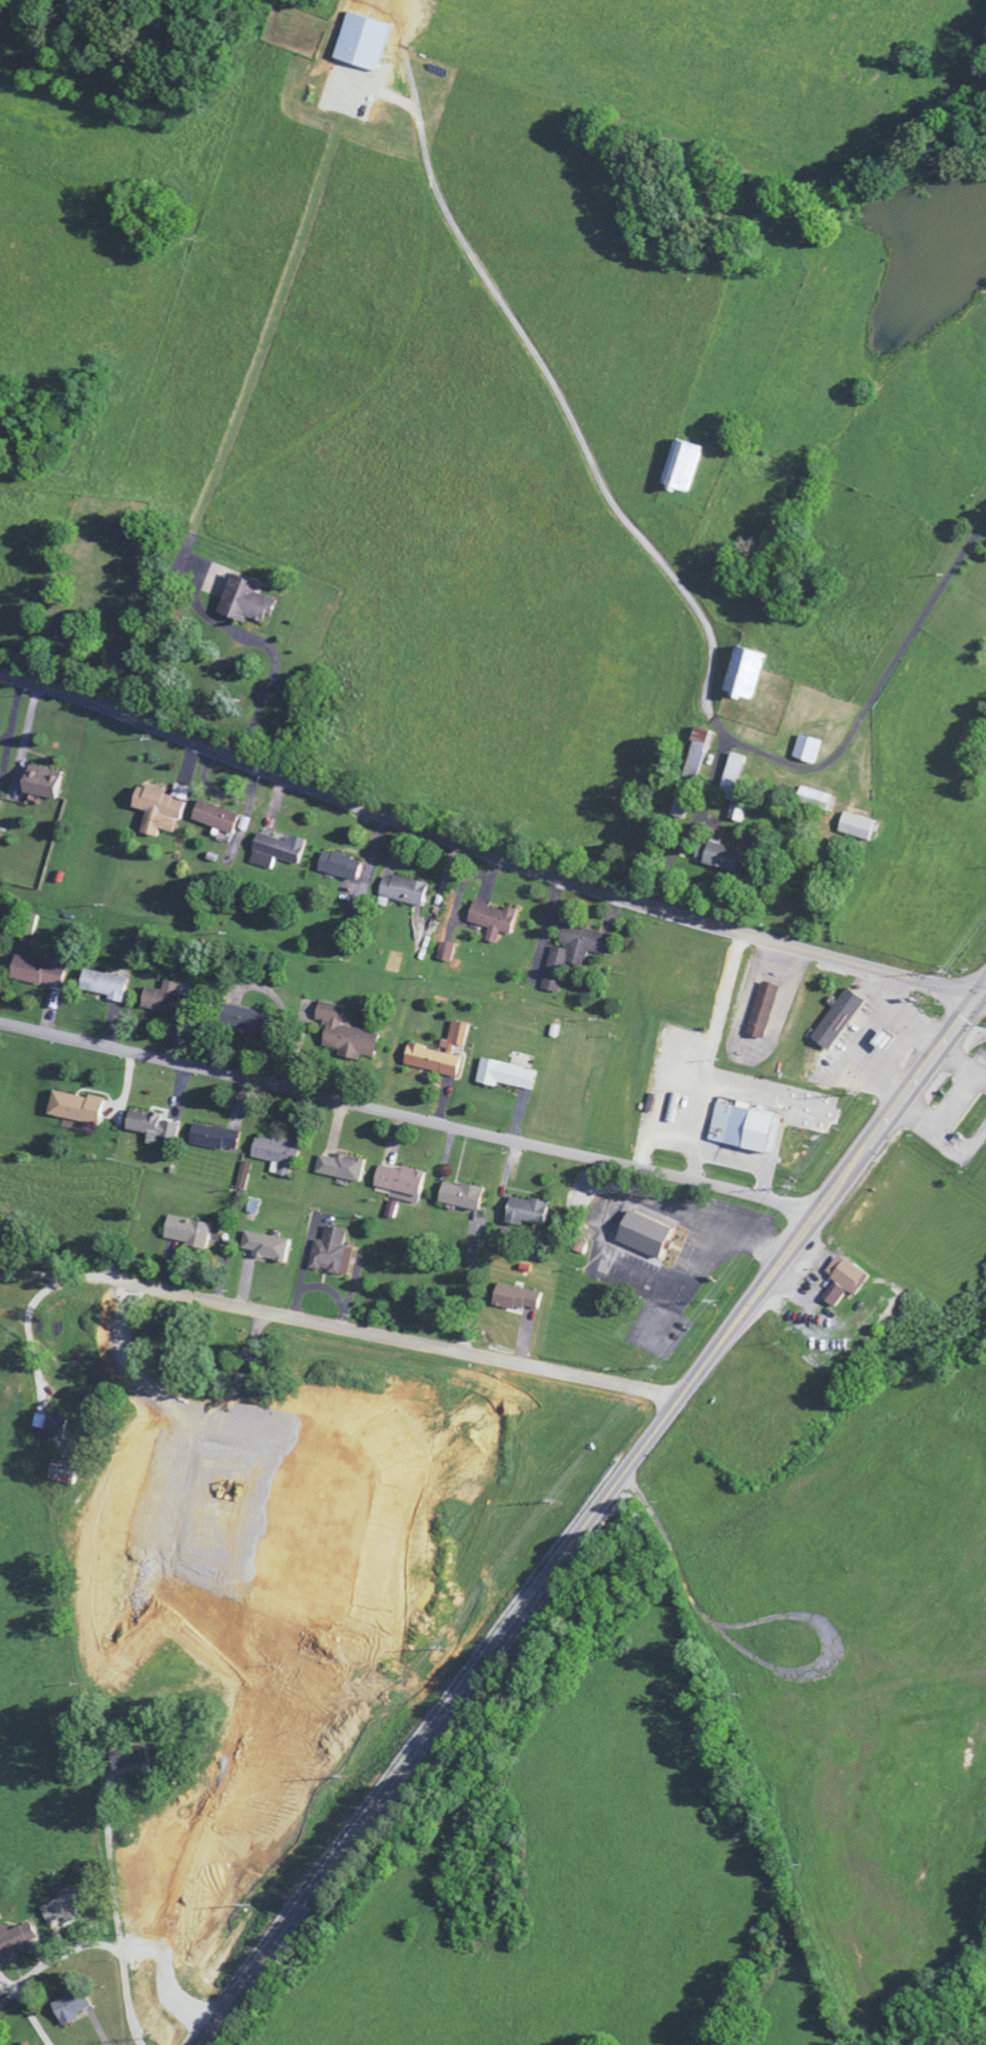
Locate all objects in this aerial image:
road: (534, 427)
building: (684, 468)
building: (249, 604)
building: (746, 676)
building: (702, 742)
building: (808, 751)
building: (694, 770)
building: (734, 775)
building: (41, 786)
building: (683, 807)
building: (161, 810)
building: (741, 814)
building: (218, 820)
building: (859, 829)
road: (699, 832)
building: (278, 852)
building: (727, 854)
road: (482, 855)
building: (344, 867)
building: (405, 893)
building: (495, 922)
building: (574, 955)
building: (39, 974)
building: (105, 987)
road: (981, 999)
building: (167, 1002)
building: (763, 1012)
building: (838, 1021)
building: (249, 1023)
building: (346, 1035)
building: (441, 1055)
building: (508, 1077)
building: (76, 1110)
road: (408, 1116)
building: (755, 1124)
building: (151, 1129)
building: (215, 1140)
building: (277, 1156)
building: (341, 1169)
building: (400, 1186)
building: (464, 1198)
building: (390, 1211)
building: (528, 1214)
building: (189, 1234)
building: (646, 1238)
building: (268, 1249)
building: (332, 1255)
building: (845, 1282)
building: (517, 1300)
road: (402, 1339)
road: (718, 1347)
building: (40, 1423)
building: (58, 1431)
building: (67, 1475)
building: (130, 1761)
road: (324, 1877)
building: (67, 1908)
building: (17, 1942)
building: (72, 2010)

